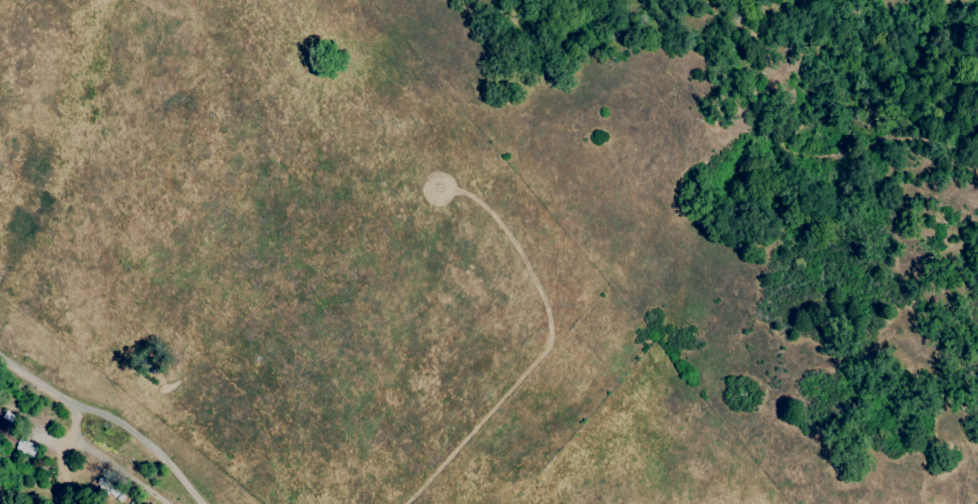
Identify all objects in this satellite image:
road: (107, 417)
building: (24, 451)

